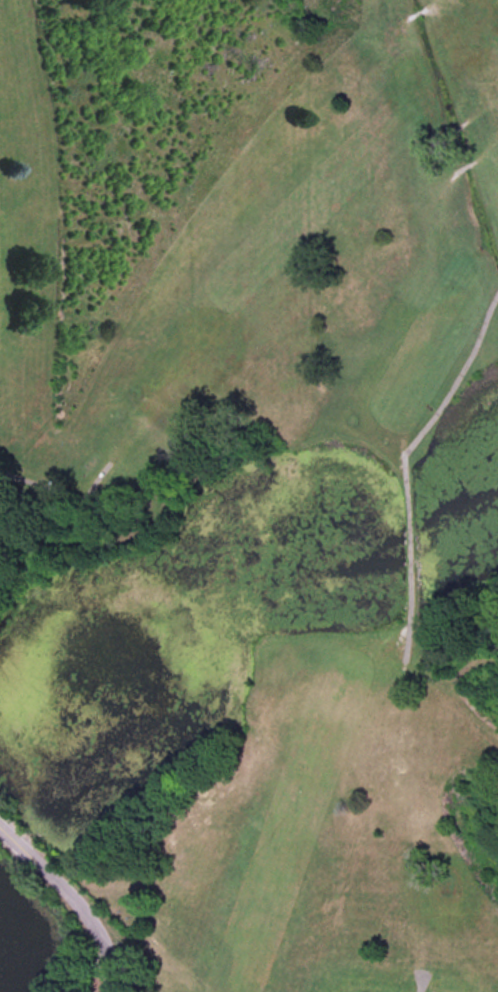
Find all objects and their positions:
park: (255, 480)
road: (75, 896)

